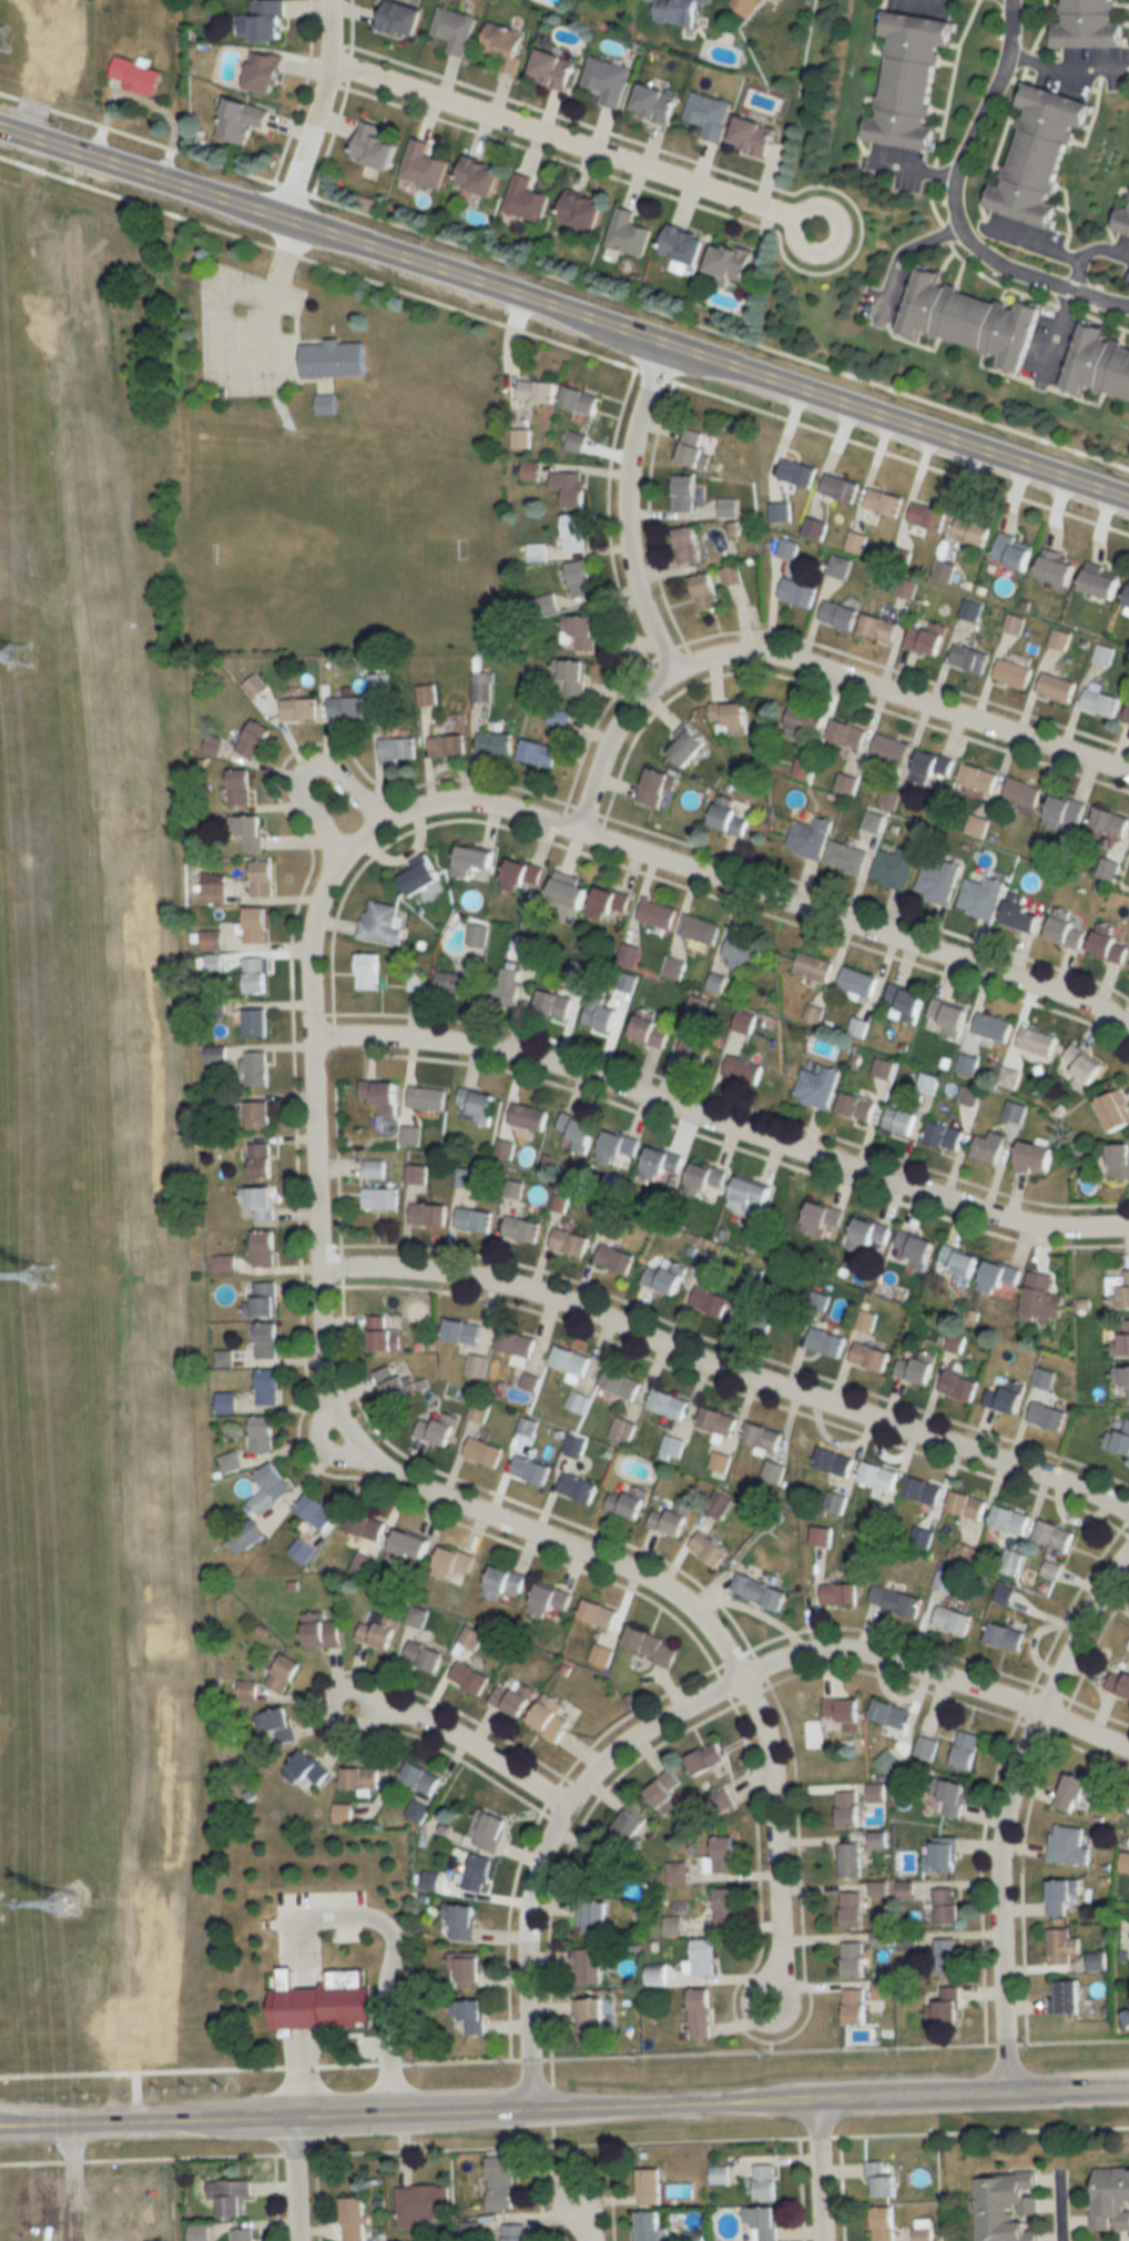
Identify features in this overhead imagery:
building: (708, 0)
building: (747, 4)
building: (678, 11)
building: (400, 18)
building: (268, 20)
building: (1090, 24)
building: (454, 28)
building: (504, 44)
building: (552, 69)
building: (264, 71)
road: (1065, 71)
building: (136, 75)
building: (909, 78)
building: (607, 79)
building: (654, 102)
road: (315, 113)
building: (708, 114)
road: (980, 114)
building: (241, 119)
building: (752, 135)
road: (570, 143)
building: (374, 145)
building: (1039, 153)
building: (423, 163)
road: (912, 171)
building: (479, 175)
building: (526, 199)
building: (581, 210)
building: (1123, 220)
building: (628, 232)
road: (1031, 242)
building: (684, 243)
road: (1089, 252)
road: (899, 254)
building: (730, 260)
road: (283, 262)
road: (1038, 275)
road: (564, 280)
road: (564, 316)
building: (970, 318)
road: (1055, 331)
road: (564, 345)
building: (330, 354)
building: (1099, 363)
road: (268, 372)
building: (536, 391)
building: (579, 399)
building: (326, 404)
building: (576, 442)
building: (696, 448)
building: (796, 471)
building: (569, 487)
building: (840, 487)
building: (683, 493)
building: (884, 501)
building: (728, 507)
road: (624, 513)
building: (927, 516)
building: (813, 527)
building: (973, 530)
building: (572, 531)
building: (856, 540)
building: (686, 545)
park: (340, 547)
building: (786, 548)
building: (1013, 551)
building: (838, 566)
building: (1056, 567)
building: (944, 570)
building: (731, 575)
building: (580, 578)
building: (1100, 580)
building: (906, 587)
building: (797, 590)
building: (704, 591)
building: (1128, 601)
building: (970, 609)
building: (838, 614)
building: (877, 627)
building: (926, 638)
building: (1060, 639)
building: (1103, 653)
building: (969, 658)
power tower: (22, 659)
road: (812, 667)
building: (1013, 673)
building: (572, 677)
building: (254, 686)
building: (481, 686)
building: (1057, 687)
building: (377, 688)
building: (426, 694)
building: (1100, 702)
building: (345, 707)
building: (298, 709)
building: (1127, 713)
building: (730, 716)
building: (558, 717)
building: (803, 719)
building: (846, 732)
building: (253, 739)
building: (494, 743)
building: (688, 744)
building: (447, 746)
building: (891, 748)
building: (397, 750)
building: (538, 752)
road: (302, 765)
building: (933, 765)
building: (977, 778)
building: (238, 788)
building: (657, 788)
building: (1021, 792)
building: (1066, 812)
building: (731, 815)
building: (1109, 821)
building: (246, 831)
building: (810, 838)
building: (845, 858)
building: (472, 861)
building: (894, 869)
building: (419, 876)
building: (521, 878)
building: (261, 879)
building: (938, 882)
road: (741, 888)
building: (567, 890)
building: (981, 896)
building: (608, 902)
building: (657, 913)
building: (1021, 916)
building: (380, 923)
building: (254, 924)
building: (699, 929)
building: (1065, 930)
building: (476, 934)
building: (1108, 944)
building: (528, 951)
building: (741, 953)
building: (628, 954)
building: (672, 967)
building: (813, 967)
building: (1128, 967)
building: (367, 971)
building: (577, 971)
building: (254, 974)
building: (415, 980)
building: (624, 981)
building: (856, 982)
building: (452, 983)
building: (500, 992)
building: (552, 1002)
building: (905, 1003)
building: (599, 1013)
building: (946, 1017)
building: (254, 1023)
building: (991, 1025)
road: (1125, 1028)
building: (649, 1030)
building: (1036, 1042)
building: (693, 1051)
building: (967, 1063)
building: (743, 1066)
building: (882, 1067)
building: (1079, 1067)
building: (254, 1068)
building: (1008, 1077)
building: (816, 1087)
building: (969, 1095)
building: (378, 1097)
building: (426, 1098)
building: (477, 1105)
building: (856, 1106)
building: (1014, 1111)
building: (1115, 1111)
building: (256, 1116)
building: (527, 1117)
building: (899, 1120)
road: (721, 1123)
building: (576, 1133)
building: (943, 1135)
building: (989, 1147)
building: (618, 1149)
building: (1035, 1158)
building: (260, 1160)
building: (1119, 1162)
building: (661, 1166)
building: (374, 1168)
building: (704, 1179)
building: (750, 1197)
building: (380, 1198)
road: (313, 1201)
building: (258, 1203)
building: (428, 1214)
building: (472, 1219)
building: (822, 1220)
building: (521, 1229)
building: (868, 1234)
building: (569, 1243)
building: (263, 1247)
building: (916, 1249)
building: (614, 1258)
building: (959, 1264)
power tower: (49, 1276)
building: (665, 1277)
building: (998, 1279)
building: (1119, 1287)
building: (1041, 1298)
building: (262, 1300)
building: (817, 1300)
building: (709, 1301)
building: (753, 1317)
building: (461, 1331)
building: (383, 1335)
building: (825, 1341)
building: (1121, 1341)
building: (266, 1343)
building: (516, 1343)
building: (869, 1357)
building: (570, 1360)
building: (477, 1366)
road: (728, 1368)
building: (917, 1368)
building: (1121, 1379)
building: (529, 1381)
building: (394, 1383)
building: (621, 1383)
building: (267, 1387)
building: (958, 1387)
building: (1006, 1398)
building: (668, 1403)
building: (478, 1411)
building: (1047, 1417)
building: (716, 1421)
building: (437, 1430)
building: (621, 1430)
building: (262, 1434)
building: (762, 1437)
building: (1119, 1439)
building: (574, 1446)
building: (671, 1448)
building: (482, 1452)
building: (230, 1462)
building: (719, 1462)
building: (833, 1462)
building: (529, 1470)
building: (878, 1478)
building: (269, 1488)
building: (577, 1488)
building: (923, 1490)
building: (628, 1502)
building: (965, 1504)
building: (315, 1511)
building: (1009, 1519)
building: (669, 1521)
building: (365, 1525)
building: (245, 1535)
building: (1054, 1535)
building: (821, 1537)
building: (407, 1550)
building: (709, 1550)
building: (964, 1553)
building: (1010, 1561)
building: (452, 1563)
building: (363, 1564)
road: (619, 1570)
building: (502, 1581)
building: (945, 1581)
building: (759, 1592)
building: (840, 1594)
building: (1003, 1595)
building: (548, 1600)
building: (895, 1600)
building: (597, 1614)
building: (953, 1620)
building: (378, 1631)
building: (321, 1632)
building: (1005, 1637)
building: (650, 1646)
building: (600, 1654)
building: (421, 1656)
building: (283, 1674)
building: (469, 1677)
road: (934, 1677)
building: (1119, 1684)
building: (513, 1697)
building: (844, 1711)
building: (888, 1714)
building: (549, 1718)
building: (274, 1725)
road: (459, 1743)
building: (925, 1747)
building: (965, 1750)
building: (705, 1760)
building: (887, 1761)
building: (306, 1770)
building: (419, 1777)
building: (359, 1778)
building: (664, 1792)
building: (1074, 1792)
building: (949, 1796)
road: (1005, 1807)
building: (847, 1808)
building: (416, 1811)
building: (342, 1813)
building: (628, 1828)
building: (486, 1831)
road: (773, 1839)
building: (1068, 1845)
road: (540, 1848)
building: (723, 1855)
building: (940, 1855)
building: (850, 1860)
building: (608, 1866)
building: (675, 1872)
building: (477, 1873)
building: (1062, 1897)
building: (725, 1906)
building: (946, 1906)
power tower: (73, 1908)
building: (852, 1909)
building: (593, 1917)
building: (462, 1920)
building: (1062, 1947)
building: (947, 1957)
building: (701, 1958)
building: (853, 1960)
building: (590, 1966)
building: (466, 1967)
building: (657, 1977)
building: (882, 1990)
building: (1066, 1998)
building: (322, 2002)
building: (854, 2007)
building: (591, 2012)
building: (943, 2012)
building: (699, 2014)
building: (472, 2016)
building: (1126, 2020)
road: (564, 2111)
road: (817, 2170)
road: (294, 2180)
building: (881, 2180)
building: (500, 2181)
building: (765, 2181)
building: (649, 2186)
building: (233, 2197)
building: (1110, 2198)
building: (420, 2203)
building: (1006, 2207)
road: (1058, 2208)
building: (353, 2219)
road: (581, 2220)
building: (762, 2222)
building: (884, 2223)
building: (649, 2227)
building: (477, 2230)
building: (197, 2232)
building: (513, 2232)
building: (244, 2234)

